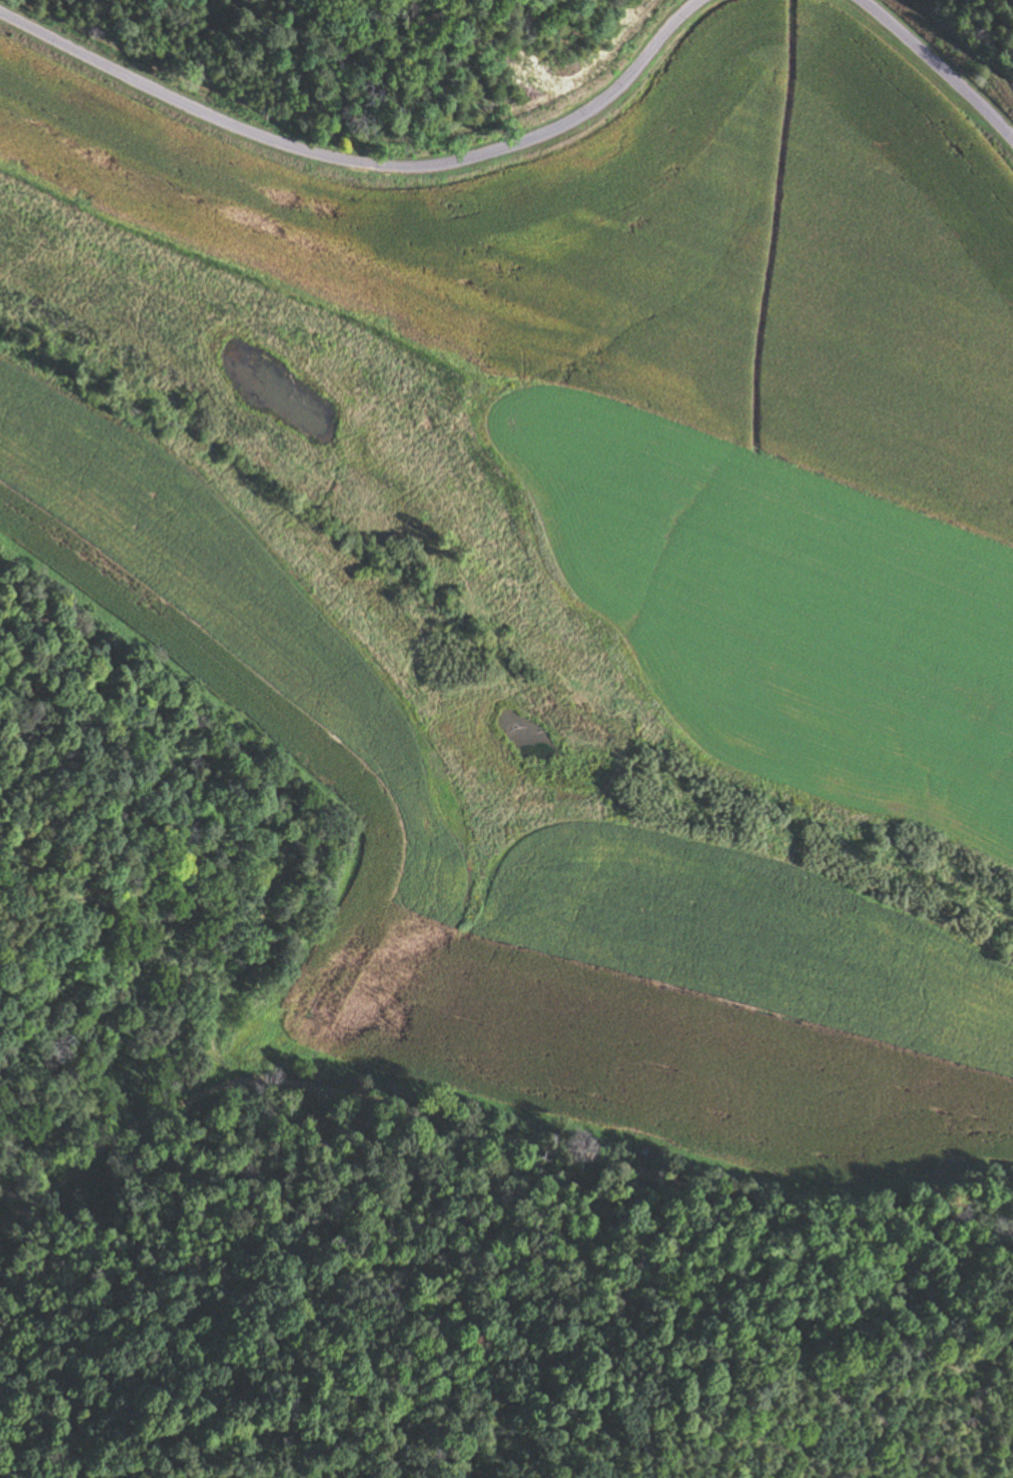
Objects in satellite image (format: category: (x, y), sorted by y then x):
road: (947, 61)
road: (378, 176)

